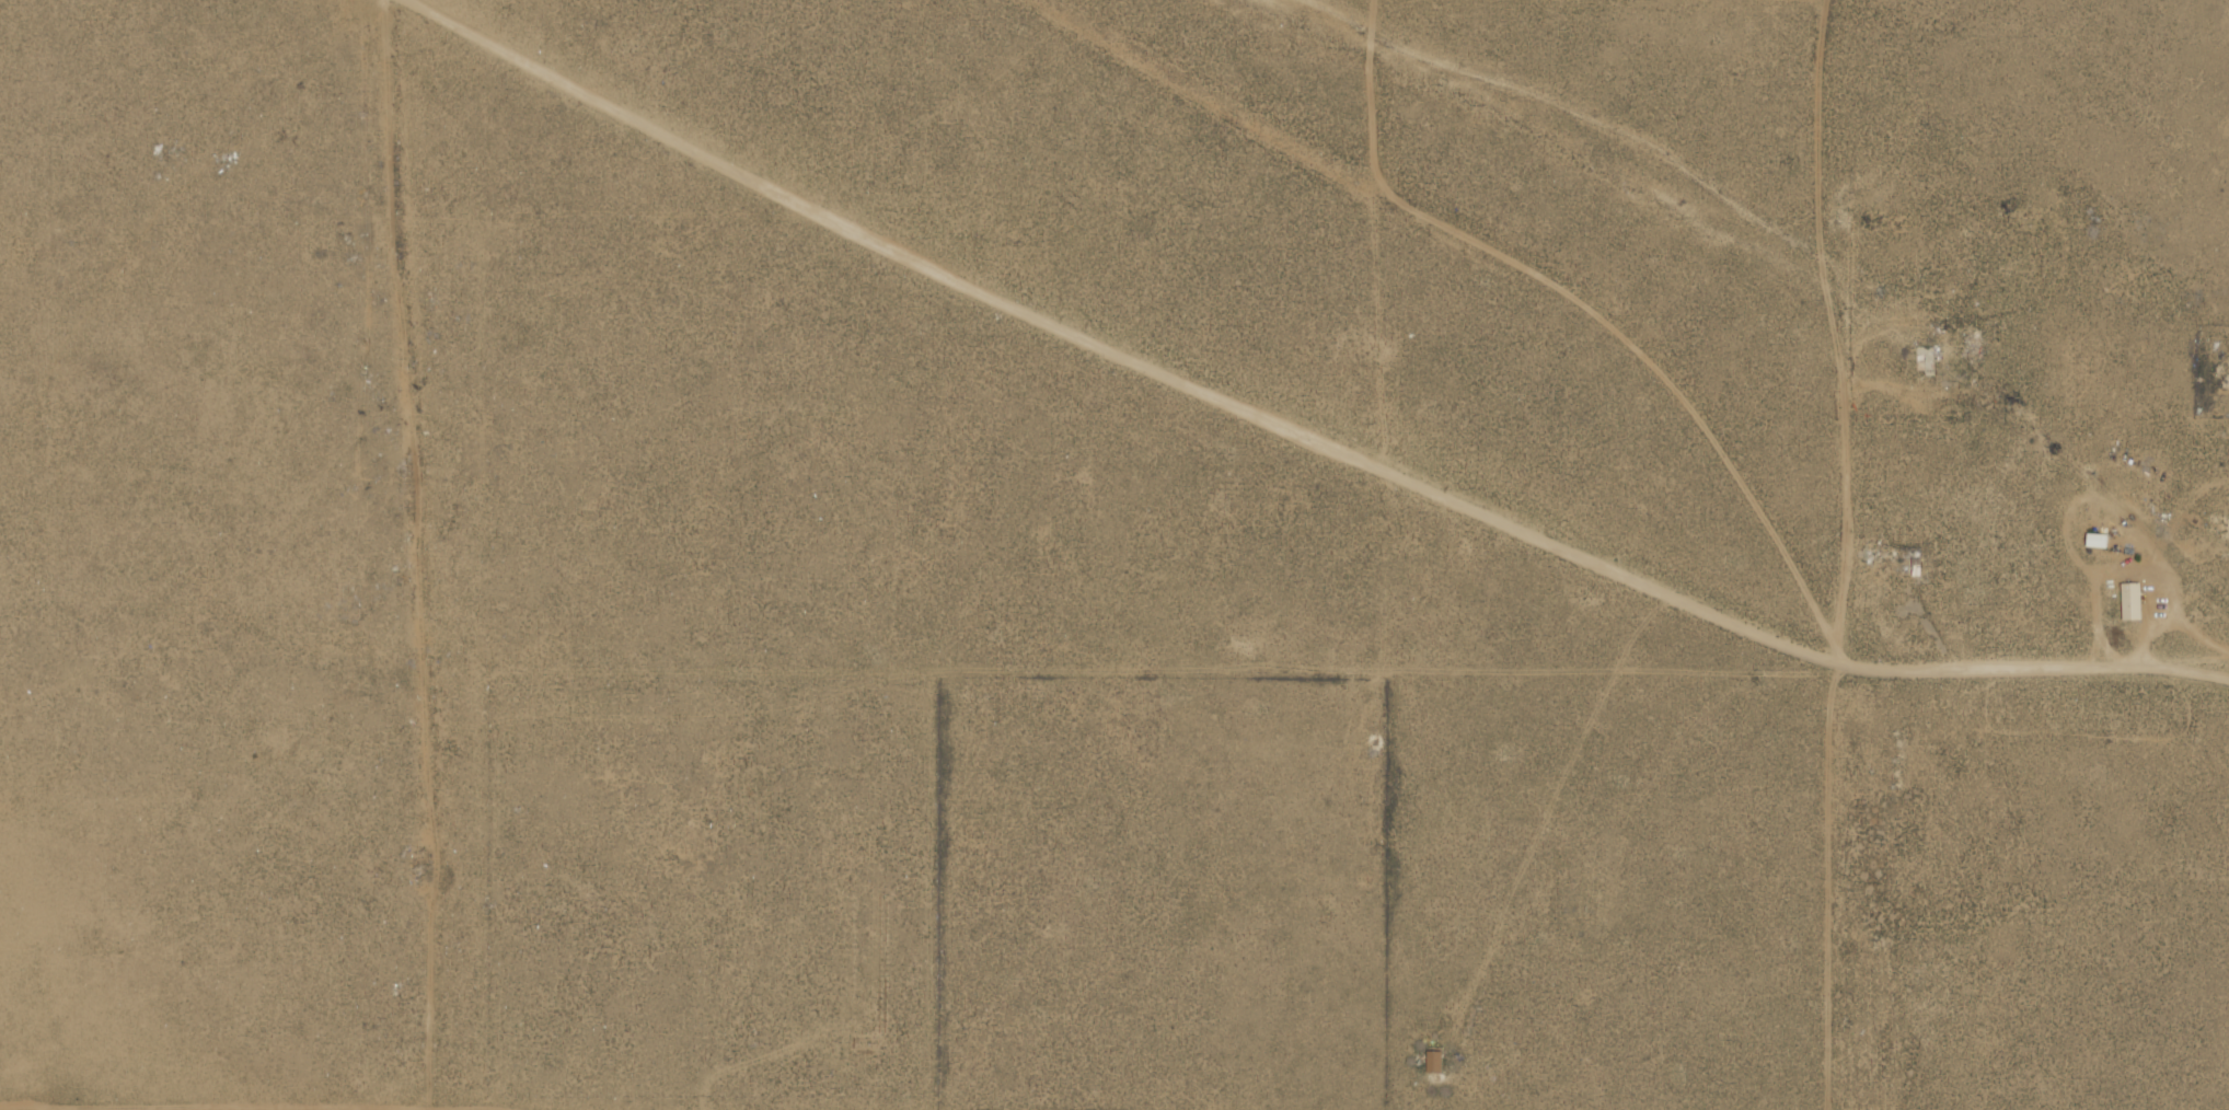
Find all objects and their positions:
road: (451, 15)
road: (934, 254)
building: (1925, 358)
building: (2094, 542)
building: (1916, 566)
building: (2129, 603)
road: (1794, 645)
road: (427, 747)
building: (1436, 1062)

